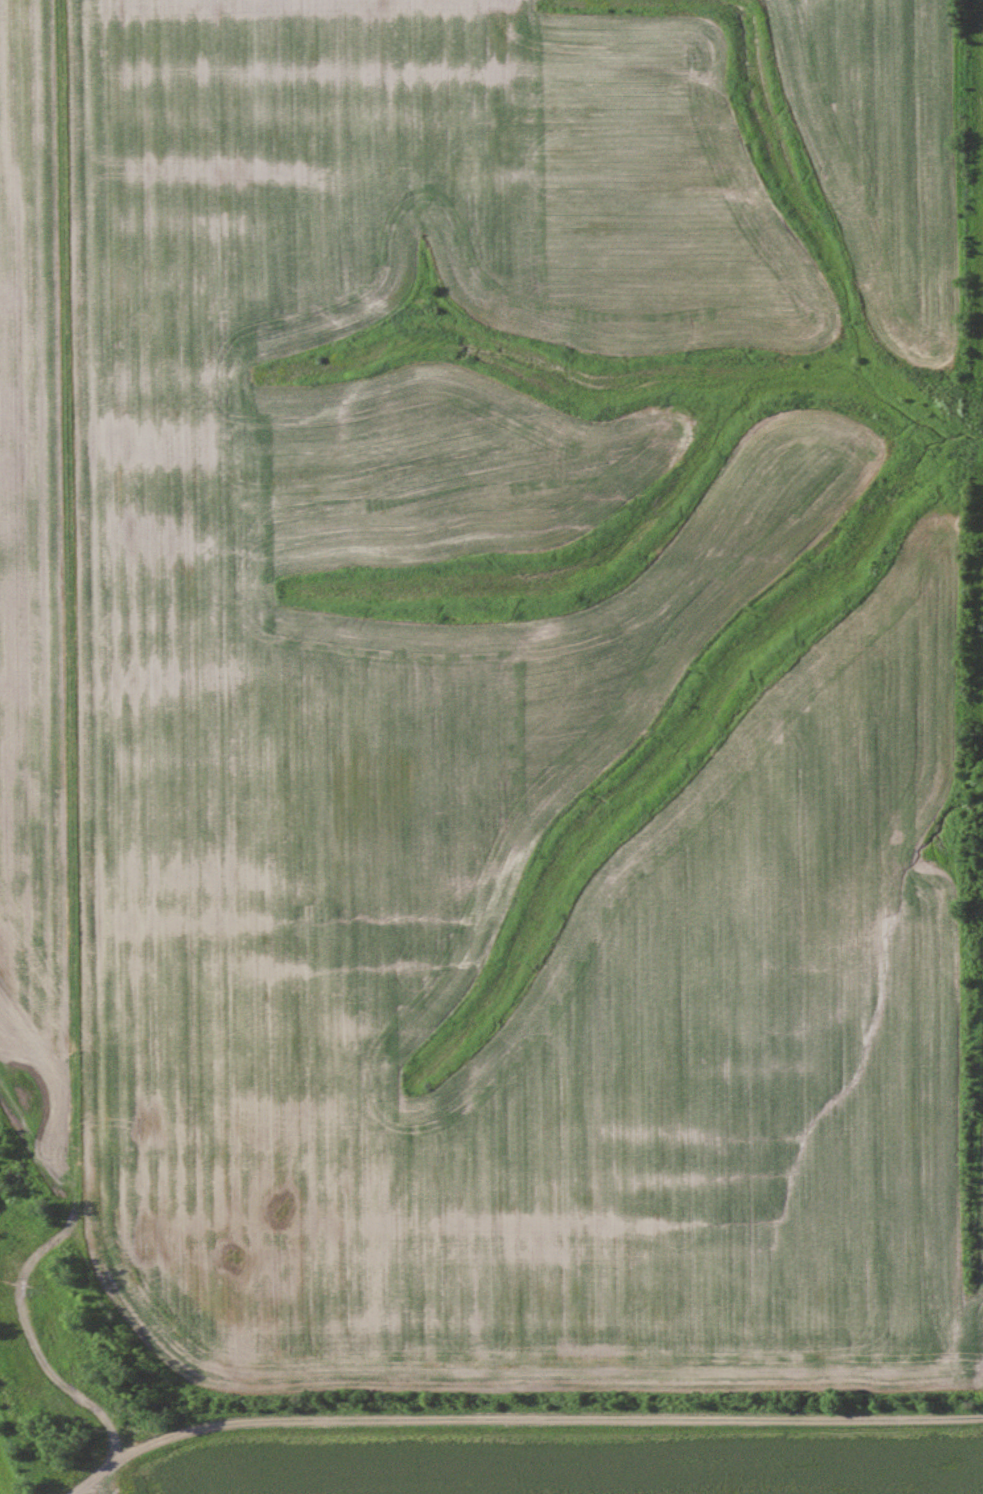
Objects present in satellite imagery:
road: (516, 1416)

